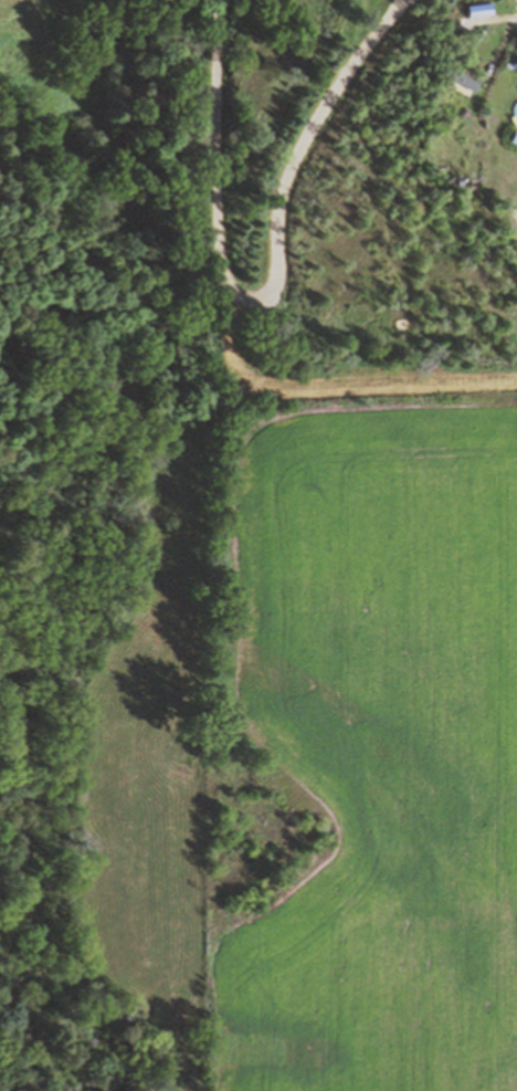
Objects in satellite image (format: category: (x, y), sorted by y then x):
road: (395, 3)
building: (465, 80)
road: (476, 179)
road: (264, 285)

